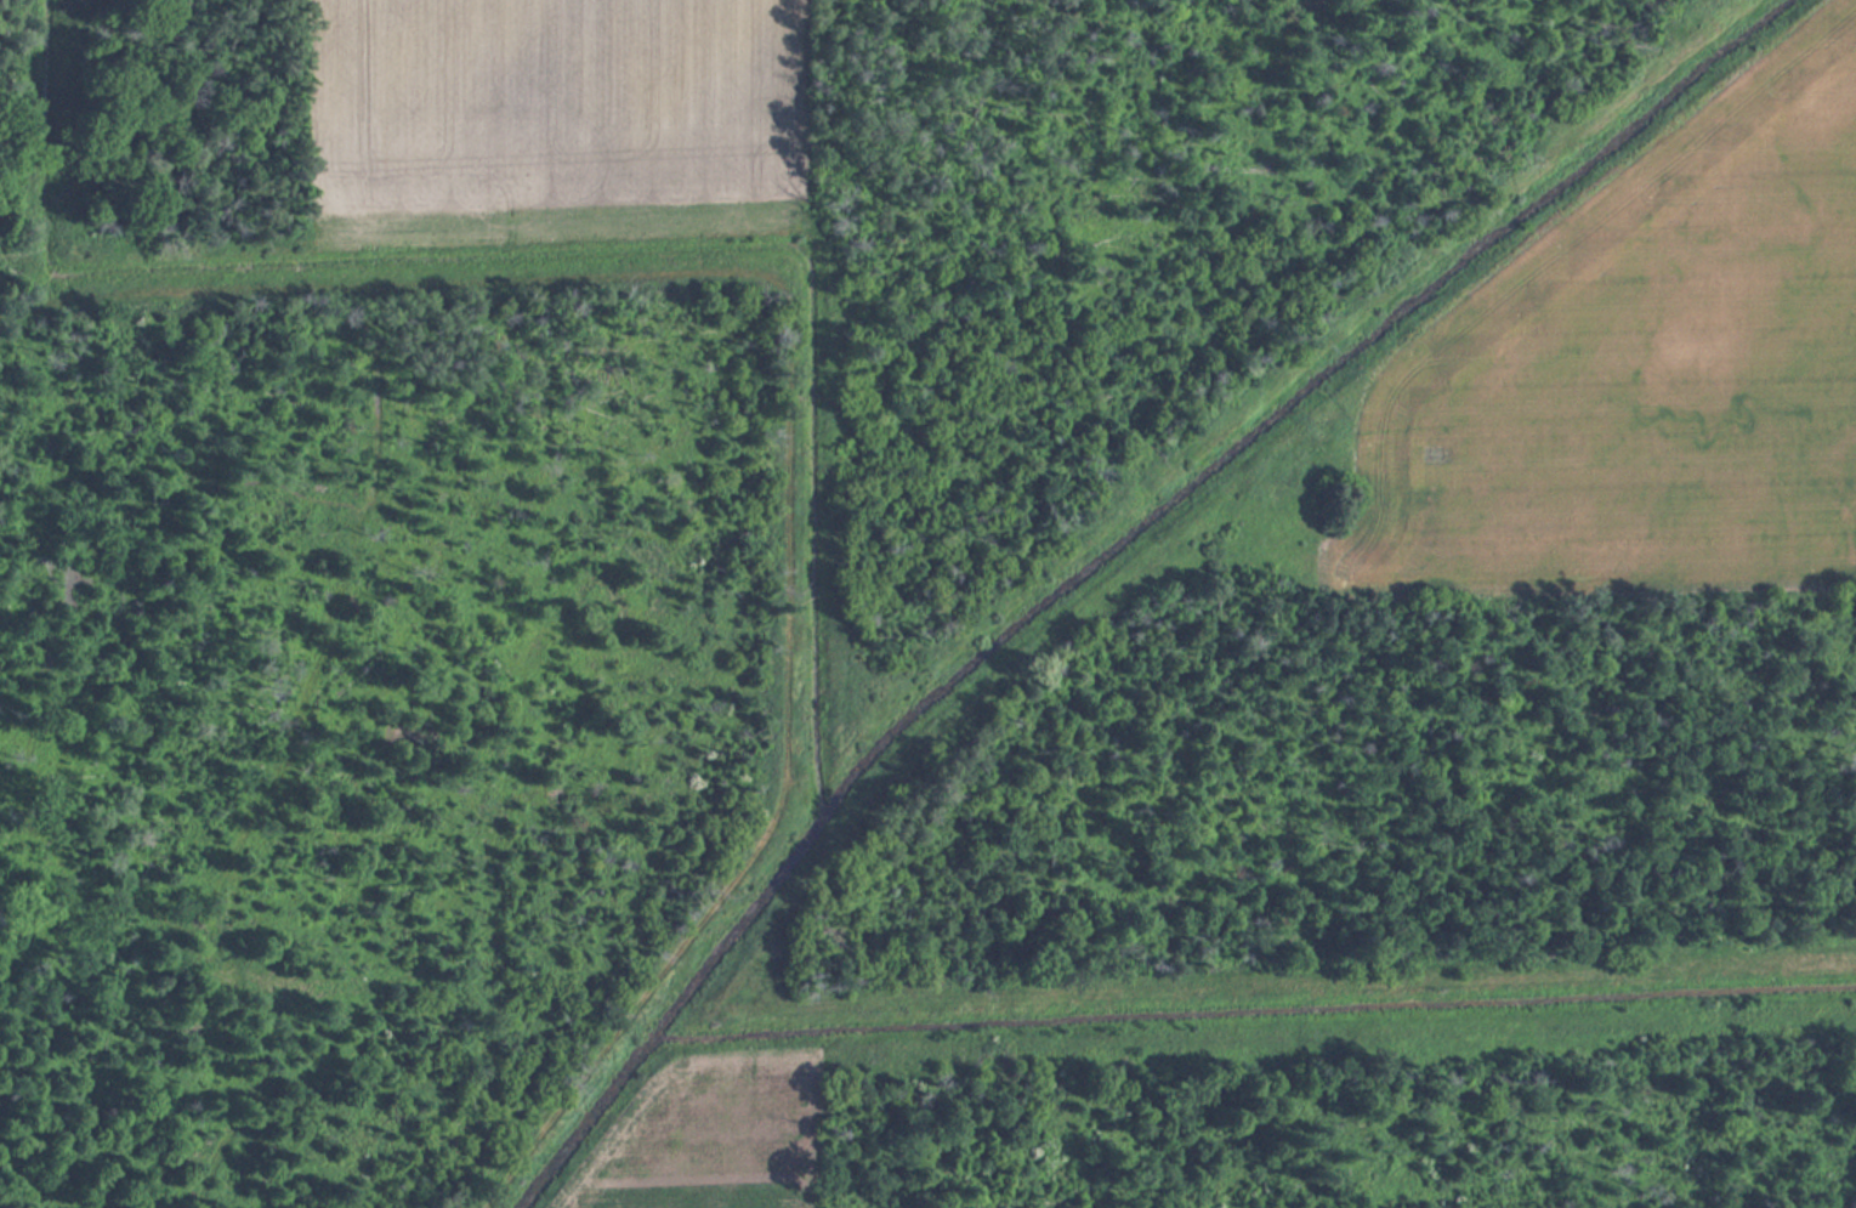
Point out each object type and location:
park: (1330, 603)

